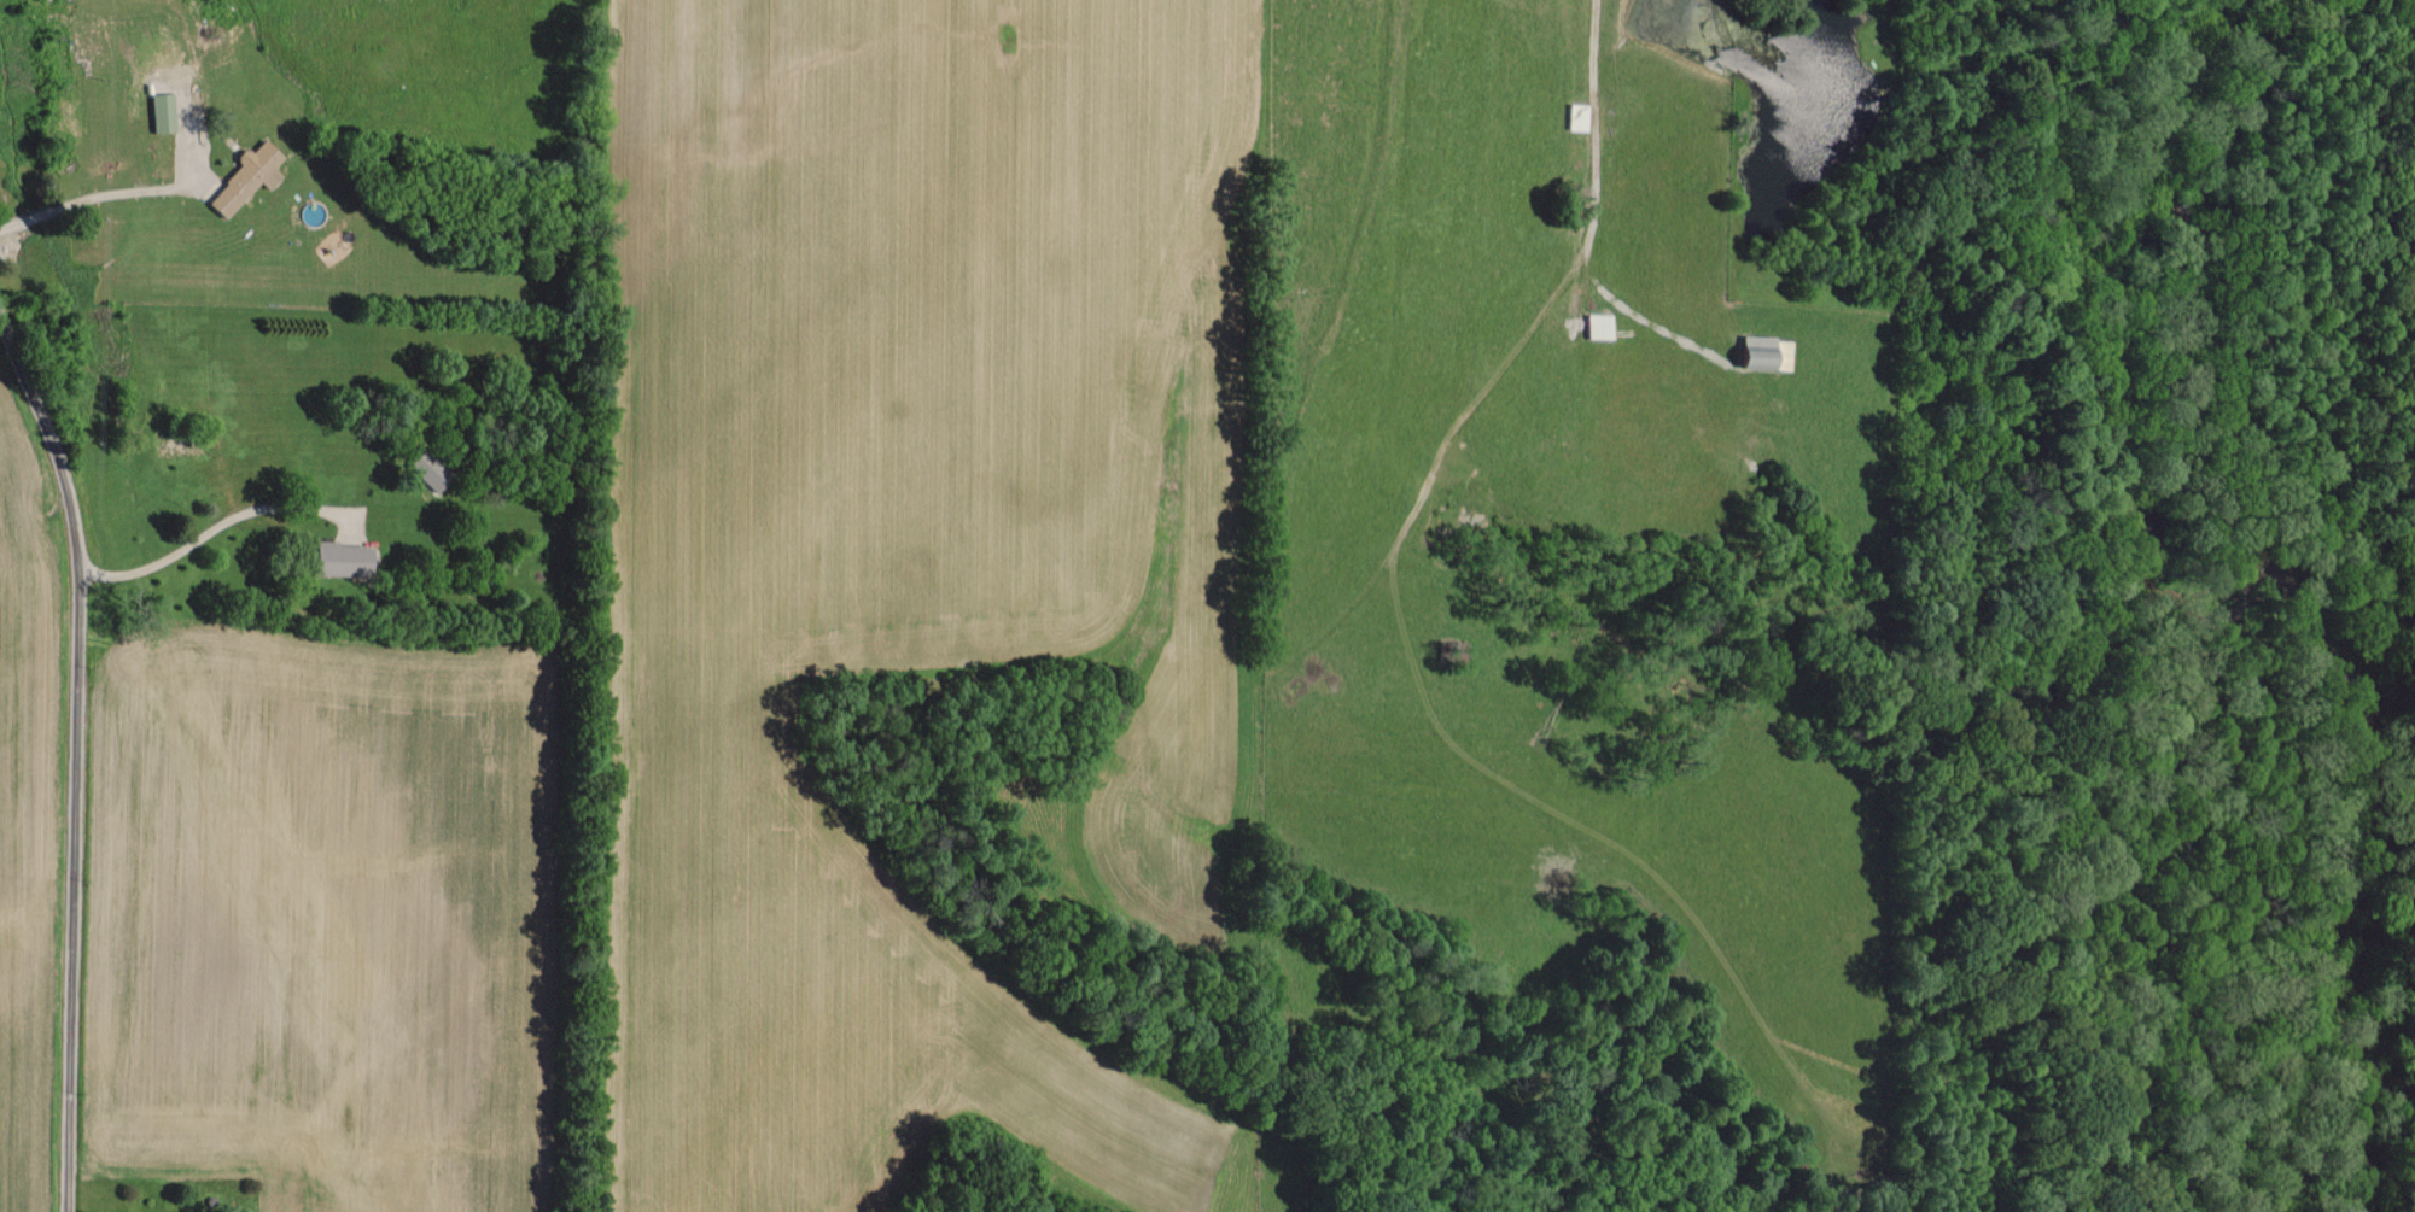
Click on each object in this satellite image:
building: (158, 111)
building: (241, 177)
road: (1597, 178)
building: (1594, 326)
building: (1760, 352)
road: (165, 558)
building: (338, 558)
road: (76, 753)

